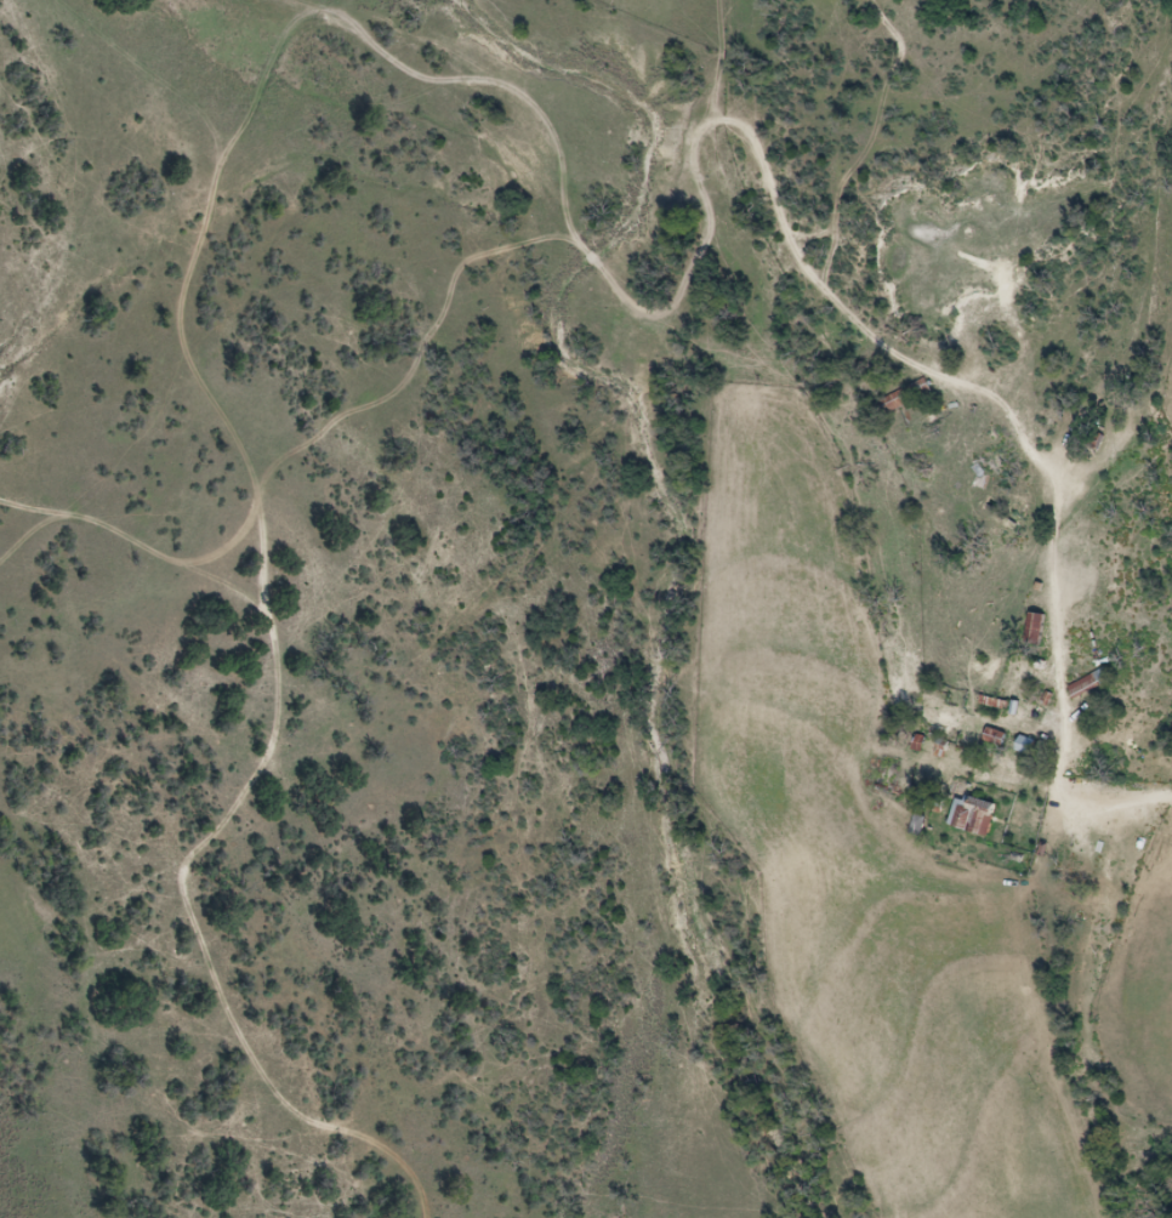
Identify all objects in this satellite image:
building: (1042, 626)
building: (1092, 682)
building: (1030, 746)
road: (1073, 750)
building: (892, 774)
building: (977, 815)

